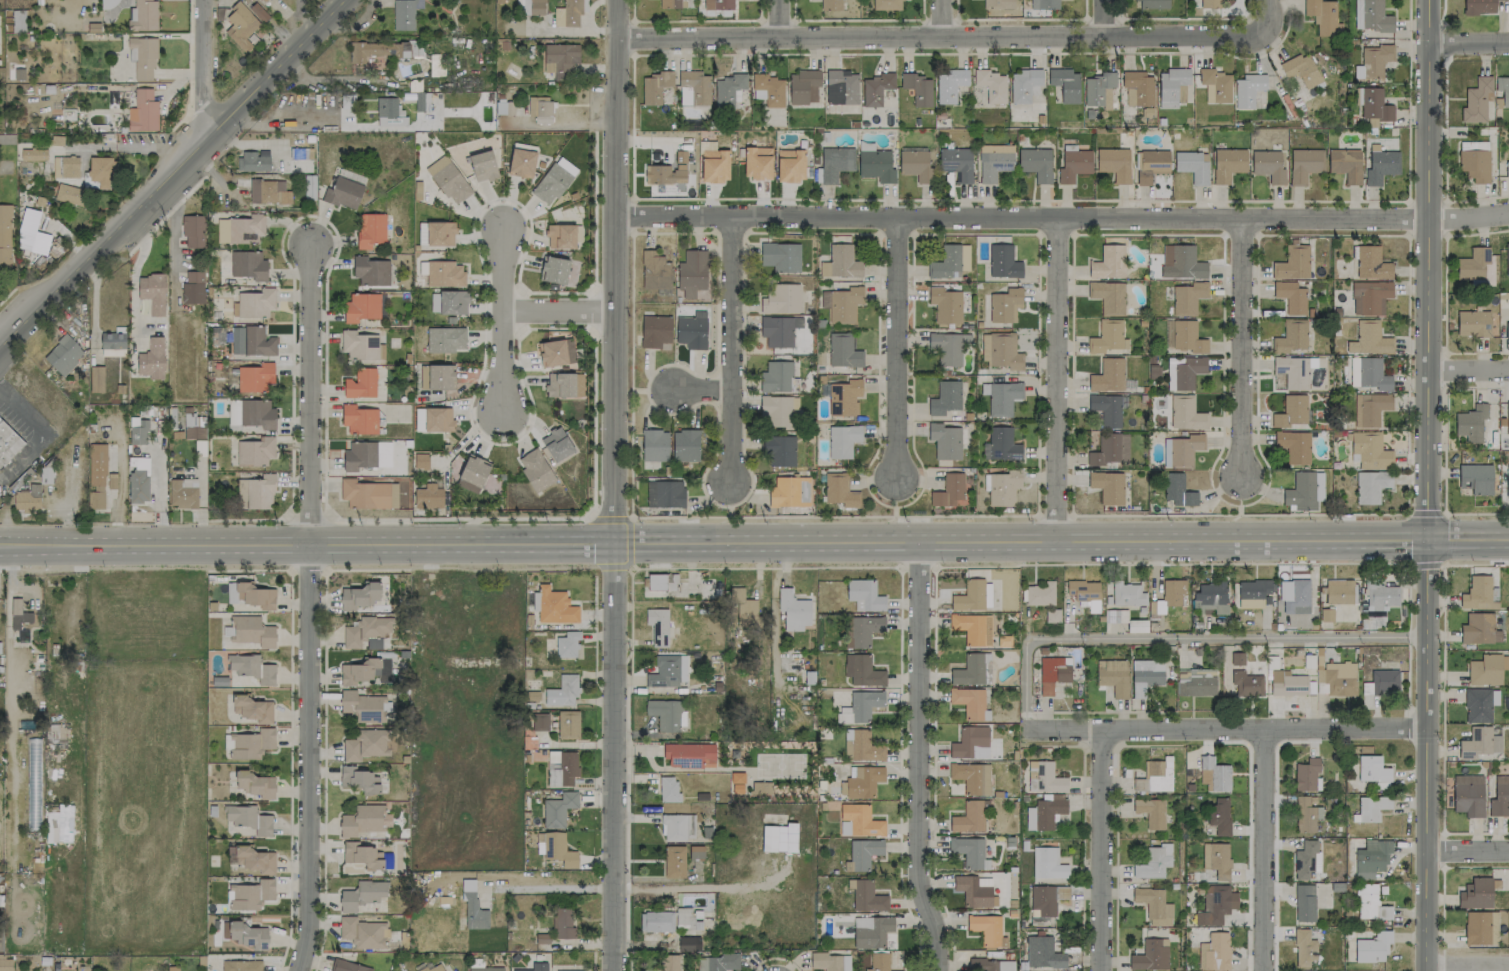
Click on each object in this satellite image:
building: (263, 0)
building: (1504, 0)
building: (672, 3)
building: (997, 3)
building: (1210, 3)
building: (718, 4)
building: (831, 4)
building: (888, 4)
building: (1043, 4)
building: (1151, 4)
road: (1265, 5)
building: (531, 7)
building: (1478, 7)
building: (258, 12)
building: (405, 13)
building: (569, 13)
road: (1442, 13)
building: (143, 15)
building: (1323, 16)
building: (1371, 16)
road: (937, 17)
road: (1102, 17)
road: (781, 18)
building: (240, 26)
road: (947, 35)
road: (1442, 44)
road: (1468, 44)
building: (376, 50)
building: (142, 57)
building: (559, 60)
building: (1373, 61)
building: (1300, 69)
road: (201, 72)
building: (949, 84)
building: (1065, 84)
building: (991, 85)
building: (1024, 85)
building: (1215, 85)
building: (654, 86)
building: (803, 86)
building: (841, 87)
building: (1172, 87)
building: (693, 88)
building: (876, 88)
building: (917, 88)
building: (1137, 88)
building: (728, 89)
building: (1098, 89)
building: (1503, 89)
building: (768, 90)
building: (977, 90)
building: (1247, 90)
building: (1477, 100)
building: (421, 101)
building: (1374, 106)
building: (503, 107)
building: (540, 109)
building: (143, 112)
building: (389, 112)
road: (125, 146)
building: (301, 153)
building: (33, 154)
building: (254, 160)
building: (521, 162)
building: (956, 162)
building: (757, 163)
building: (835, 163)
building: (1035, 163)
building: (1114, 163)
road: (1445, 163)
building: (993, 164)
building: (1228, 164)
building: (1304, 164)
building: (1345, 164)
building: (1475, 164)
building: (714, 165)
building: (790, 165)
building: (876, 165)
building: (915, 165)
building: (1073, 165)
building: (1150, 165)
building: (1192, 165)
building: (1268, 165)
building: (1379, 165)
building: (65, 166)
building: (482, 166)
building: (1507, 169)
building: (101, 170)
road: (173, 174)
building: (665, 174)
building: (309, 180)
building: (448, 180)
building: (553, 180)
building: (345, 189)
building: (268, 192)
building: (69, 194)
road: (1467, 217)
road: (1021, 218)
road: (175, 225)
building: (240, 229)
building: (370, 229)
building: (193, 231)
building: (436, 233)
building: (5, 236)
building: (560, 236)
building: (780, 256)
building: (1507, 259)
building: (840, 262)
building: (946, 262)
building: (1003, 262)
building: (1108, 262)
building: (1181, 262)
building: (1292, 263)
building: (1371, 263)
building: (248, 265)
building: (1470, 265)
building: (558, 270)
building: (371, 271)
road: (616, 271)
building: (654, 272)
building: (692, 272)
building: (445, 273)
road: (131, 287)
building: (193, 287)
building: (152, 293)
road: (1443, 294)
building: (1107, 297)
building: (1290, 297)
building: (1369, 297)
building: (1187, 298)
building: (781, 299)
building: (448, 302)
building: (254, 303)
building: (842, 304)
building: (945, 305)
building: (1004, 305)
building: (361, 307)
road: (560, 312)
road: (503, 321)
building: (1472, 323)
building: (656, 330)
building: (692, 330)
building: (778, 330)
building: (1507, 330)
road: (5, 333)
building: (1107, 337)
building: (1187, 337)
building: (1290, 337)
building: (1369, 338)
building: (445, 339)
building: (105, 340)
building: (251, 341)
building: (359, 345)
road: (899, 347)
building: (948, 347)
road: (733, 350)
building: (843, 350)
building: (1000, 350)
road: (1245, 350)
building: (556, 352)
building: (63, 355)
building: (151, 359)
building: (1292, 371)
road: (1468, 371)
building: (1183, 372)
building: (1369, 374)
building: (1107, 375)
building: (776, 376)
building: (255, 377)
building: (437, 377)
road: (1055, 380)
building: (360, 383)
building: (562, 385)
road: (707, 392)
road: (313, 397)
building: (844, 397)
building: (1001, 397)
building: (945, 398)
road: (19, 409)
building: (778, 409)
building: (1106, 409)
building: (1369, 409)
building: (1291, 411)
building: (251, 413)
building: (1185, 413)
building: (1507, 418)
building: (359, 419)
building: (433, 419)
building: (1470, 423)
road: (1441, 424)
building: (193, 426)
building: (138, 430)
building: (842, 440)
building: (945, 441)
building: (8, 443)
building: (556, 444)
building: (654, 445)
building: (685, 445)
building: (1001, 445)
building: (1294, 446)
building: (1110, 449)
building: (1181, 450)
building: (255, 451)
building: (779, 451)
building: (1369, 451)
road: (24, 454)
building: (367, 455)
building: (418, 462)
building: (473, 470)
building: (535, 470)
building: (96, 476)
building: (1475, 478)
building: (1507, 480)
building: (138, 485)
road: (158, 485)
road: (1426, 485)
building: (1107, 486)
building: (1318, 486)
building: (1371, 486)
building: (1002, 487)
building: (839, 490)
building: (948, 490)
building: (1177, 490)
building: (1300, 491)
building: (789, 492)
building: (182, 493)
building: (255, 493)
building: (665, 493)
building: (368, 494)
building: (403, 494)
building: (428, 496)
building: (26, 501)
road: (1425, 512)
road: (1482, 513)
road: (754, 542)
building: (661, 582)
building: (1338, 591)
building: (1084, 593)
building: (1252, 593)
building: (1478, 593)
building: (1040, 594)
building: (1127, 594)
building: (254, 595)
building: (359, 595)
building: (864, 595)
building: (987, 595)
building: (1171, 595)
building: (969, 596)
building: (1210, 597)
building: (1297, 597)
building: (1381, 597)
building: (555, 606)
building: (743, 609)
building: (793, 610)
building: (1052, 615)
building: (1325, 615)
building: (657, 625)
building: (972, 628)
building: (1479, 629)
building: (862, 630)
building: (252, 631)
building: (366, 632)
road: (1180, 637)
building: (567, 644)
building: (1237, 658)
building: (1486, 669)
building: (862, 670)
building: (969, 670)
building: (250, 671)
building: (366, 671)
building: (667, 671)
building: (1053, 673)
building: (1145, 675)
building: (1112, 676)
building: (1337, 677)
building: (1384, 681)
building: (1246, 683)
building: (1287, 683)
building: (1196, 685)
building: (562, 691)
road: (1443, 699)
building: (969, 702)
building: (363, 706)
building: (860, 706)
building: (252, 708)
building: (666, 714)
building: (540, 722)
building: (567, 724)
road: (1228, 730)
building: (251, 743)
building: (970, 743)
building: (1479, 743)
building: (368, 744)
building: (861, 746)
building: (689, 755)
road: (615, 757)
road: (917, 757)
road: (310, 758)
building: (562, 768)
building: (1373, 771)
building: (1214, 775)
building: (1307, 775)
building: (971, 777)
building: (1154, 777)
building: (1045, 779)
building: (359, 780)
building: (737, 782)
building: (861, 782)
building: (256, 784)
building: (761, 788)
building: (668, 789)
building: (1468, 795)
building: (1500, 797)
building: (1372, 807)
building: (558, 809)
building: (1045, 812)
building: (1151, 812)
building: (1219, 816)
building: (968, 817)
building: (248, 819)
building: (364, 819)
building: (858, 821)
building: (60, 825)
building: (677, 827)
building: (779, 838)
building: (558, 850)
road: (1263, 850)
building: (968, 851)
road: (1101, 851)
road: (1468, 852)
building: (695, 853)
building: (864, 853)
building: (362, 855)
building: (1371, 858)
building: (1216, 859)
building: (1306, 859)
building: (256, 860)
building: (674, 861)
building: (1154, 862)
building: (1047, 864)
road: (556, 885)
road: (1442, 886)
road: (696, 889)
building: (973, 892)
building: (1476, 893)
building: (251, 894)
building: (361, 895)
building: (867, 896)
building: (1045, 902)
building: (1304, 903)
building: (1370, 903)
building: (1153, 905)
building: (1213, 905)
building: (472, 906)
building: (685, 919)
building: (656, 921)
building: (563, 923)
building: (1477, 928)
building: (225, 929)
building: (987, 930)
building: (871, 931)
building: (362, 933)
building: (248, 935)
building: (684, 944)
building: (1372, 947)
building: (1304, 949)
building: (1214, 952)
building: (1042, 953)
building: (1150, 955)
building: (829, 961)
building: (878, 961)
building: (668, 962)
building: (717, 962)
road: (1468, 963)
building: (241, 965)
building: (990, 965)
building: (349, 966)
building: (434, 967)
building: (535, 967)
building: (485, 969)
building: (578, 970)

